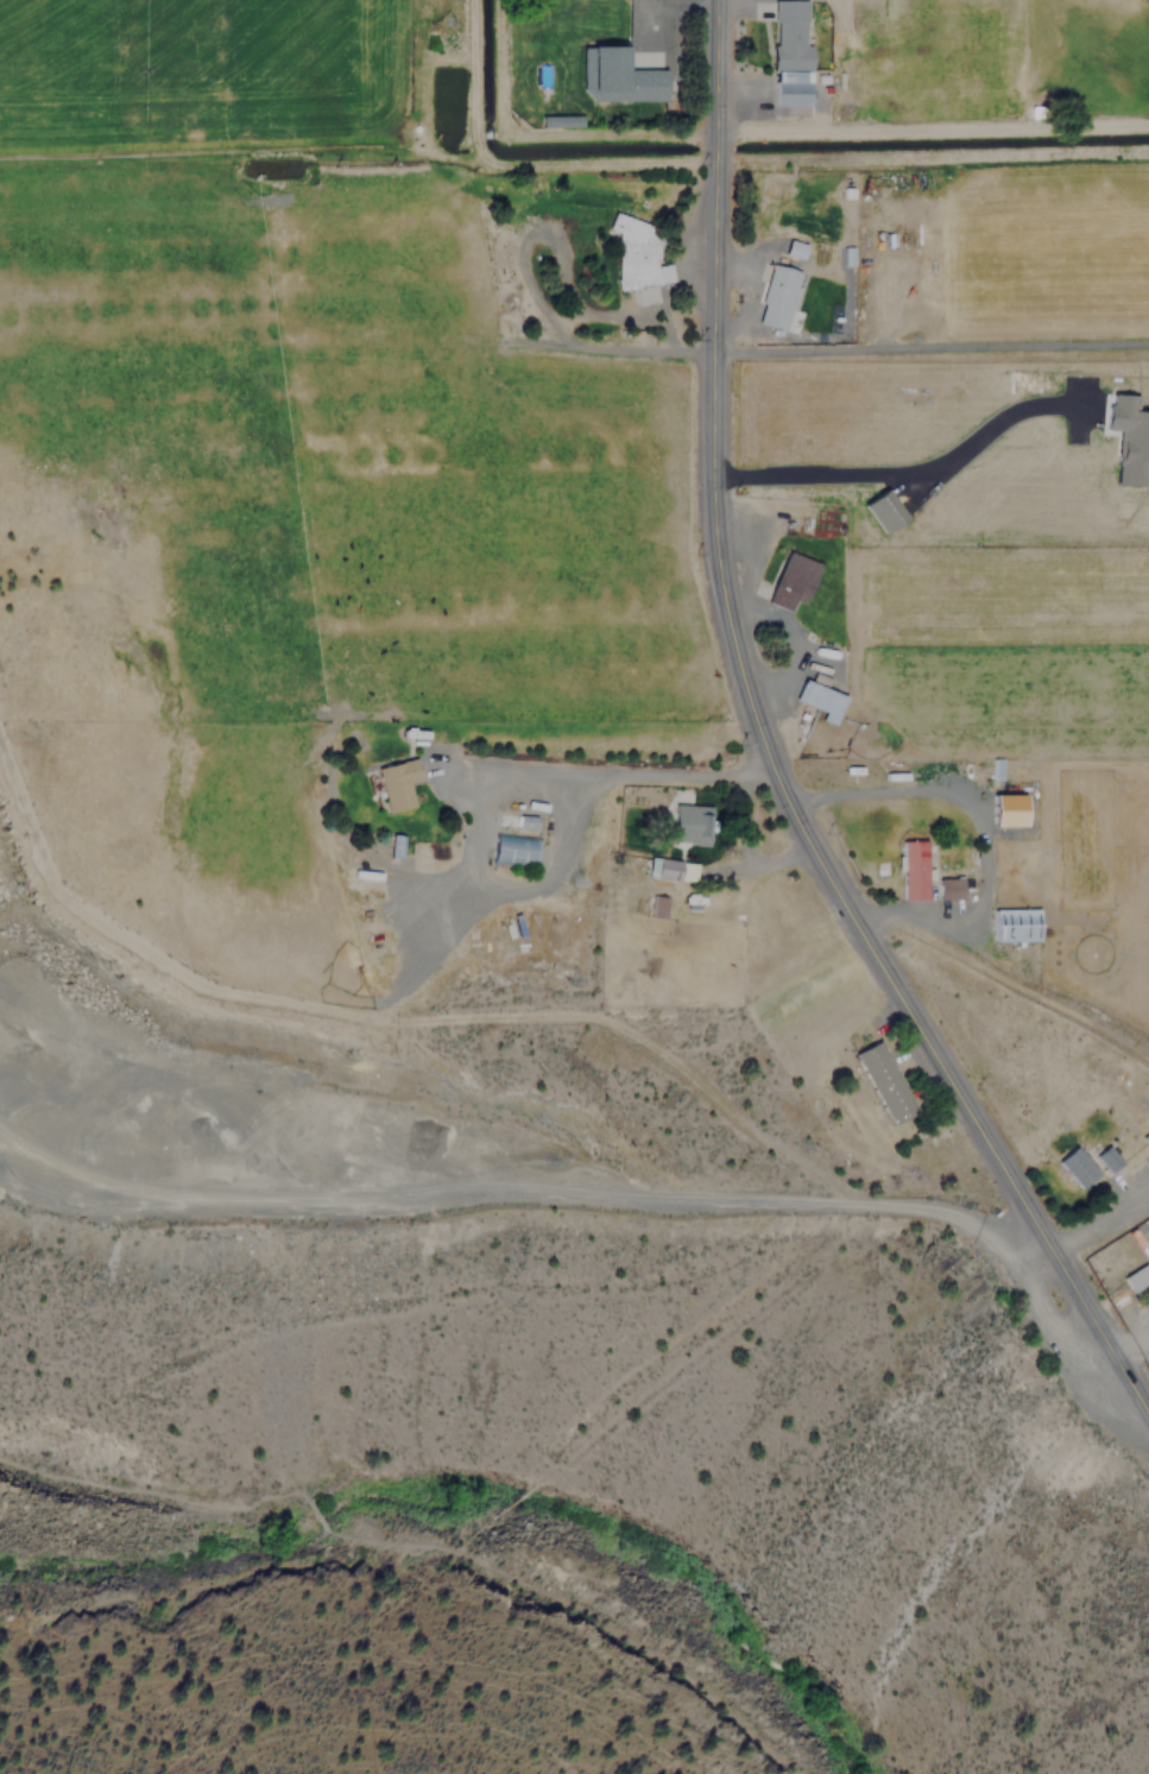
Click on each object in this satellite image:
building: (788, 58)
building: (614, 76)
road: (545, 133)
building: (636, 258)
building: (775, 297)
road: (933, 348)
building: (1125, 419)
building: (880, 511)
building: (789, 579)
road: (749, 693)
building: (819, 700)
road: (614, 775)
building: (396, 782)
building: (993, 810)
building: (681, 821)
building: (510, 848)
building: (661, 867)
building: (910, 869)
building: (947, 888)
building: (657, 905)
building: (1012, 923)
building: (882, 1081)
building: (1105, 1156)
building: (1075, 1169)
building: (1135, 1277)
road: (1115, 1364)
road: (156, 1495)
road: (315, 1517)
road: (580, 1609)

